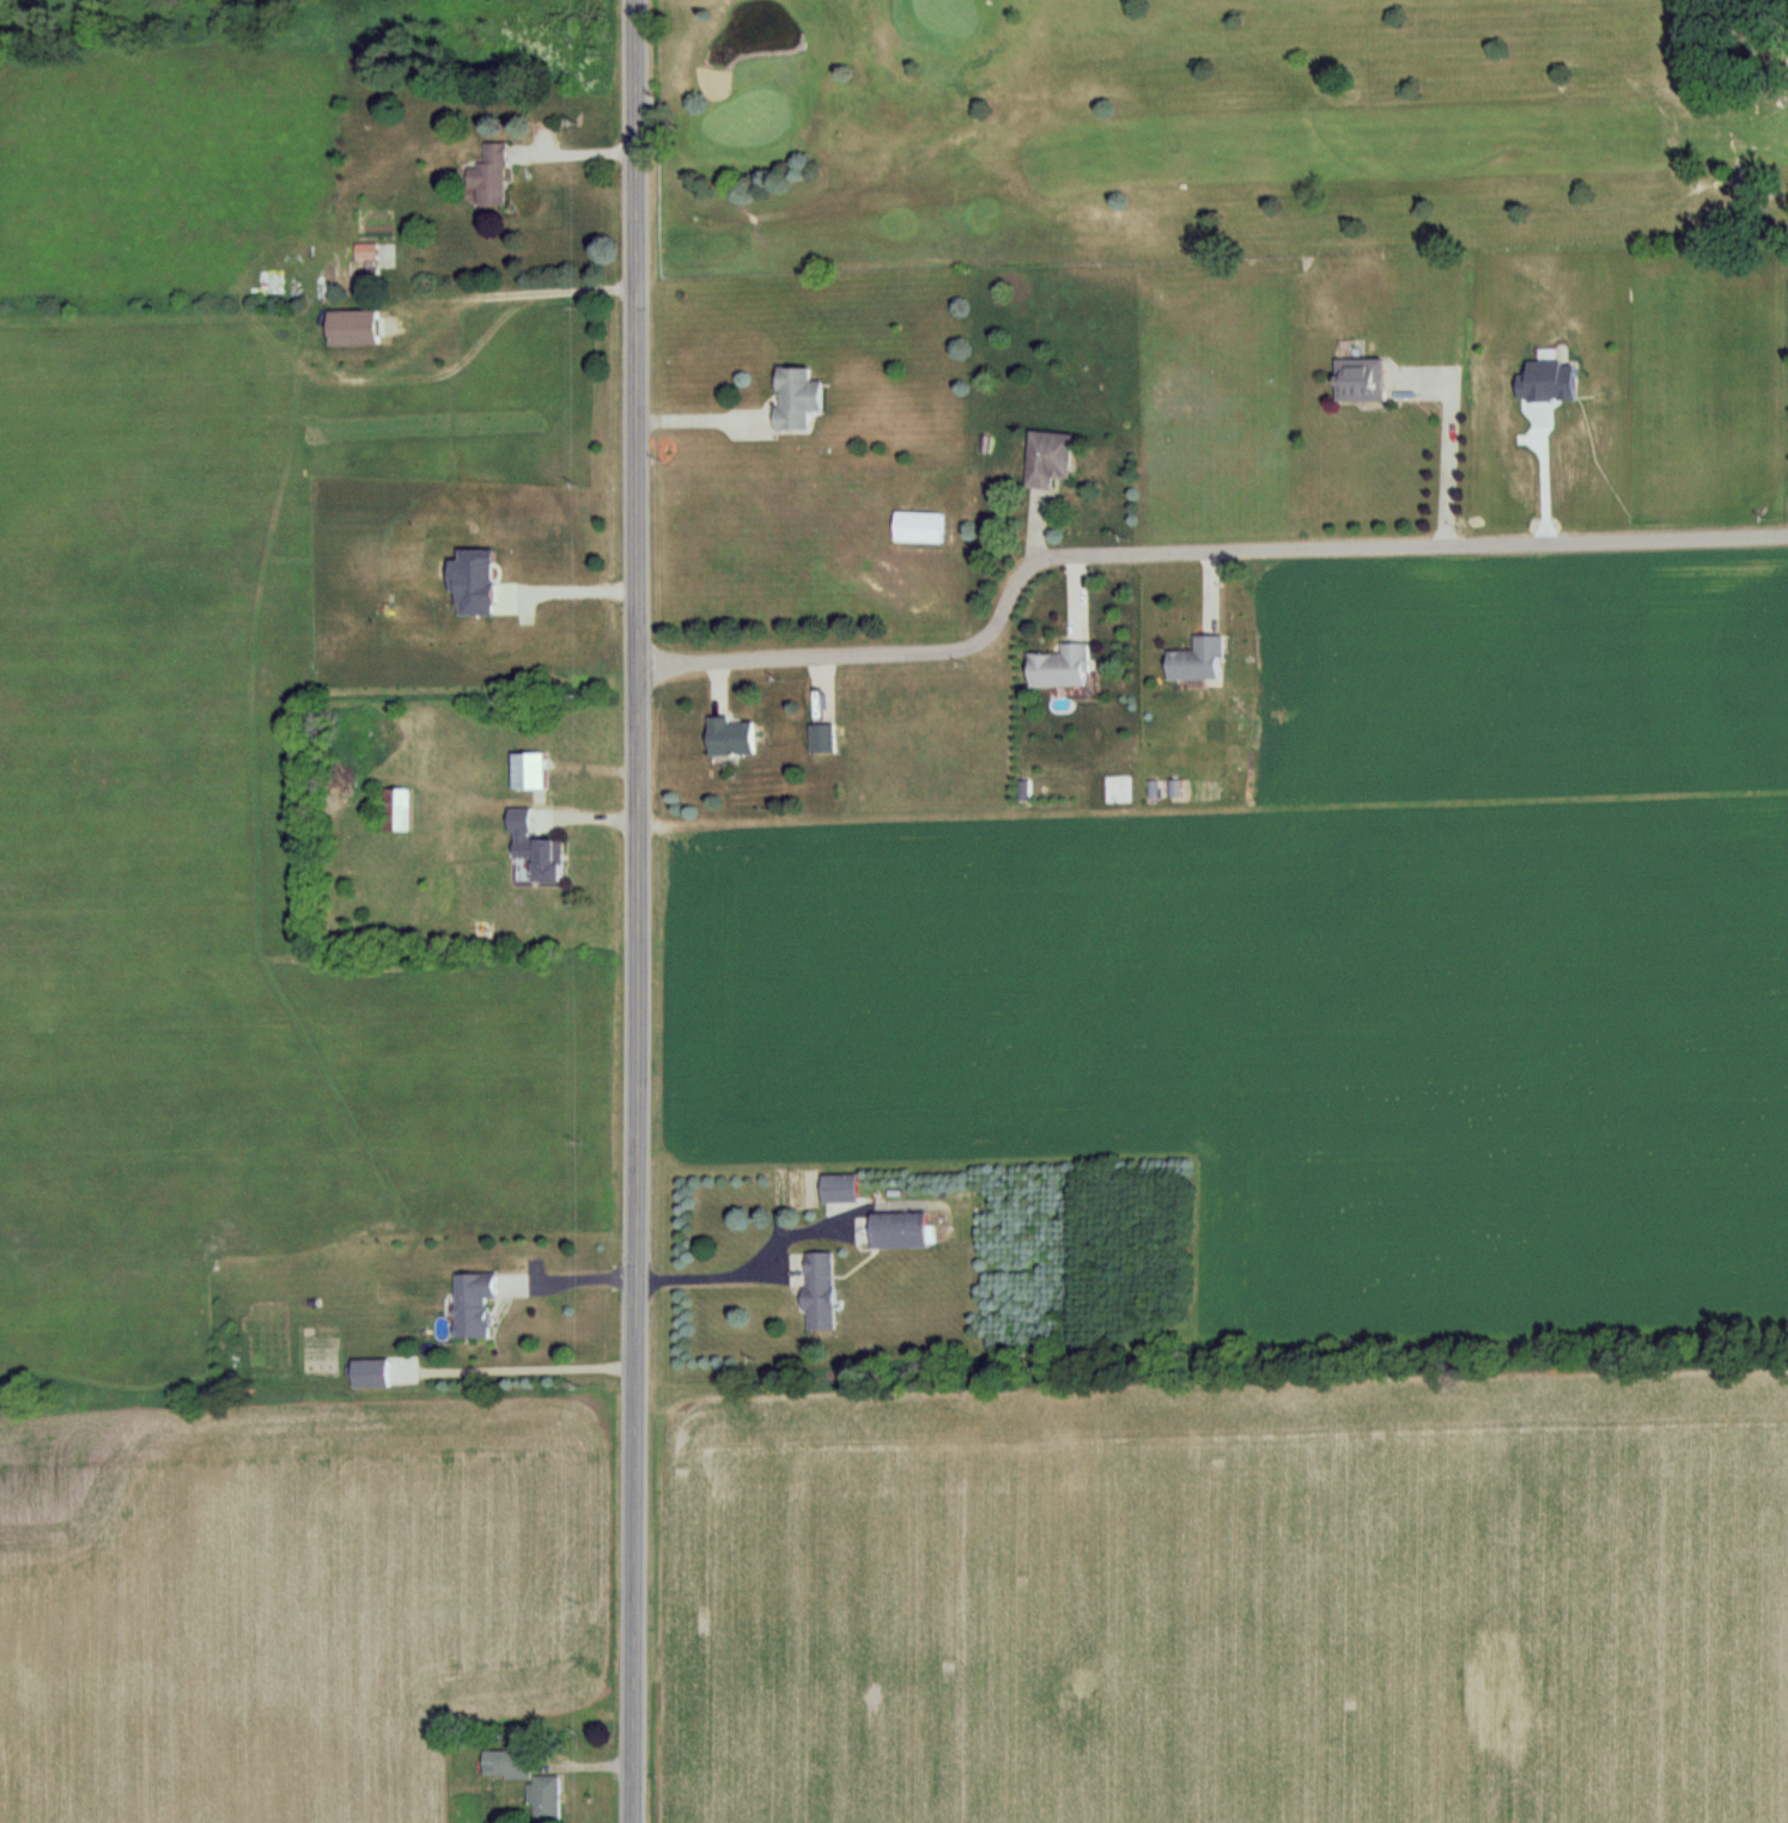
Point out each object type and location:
park: (1220, 114)
road: (572, 150)
building: (491, 176)
building: (369, 258)
road: (527, 293)
building: (353, 329)
building: (1361, 380)
building: (797, 398)
road: (701, 419)
road: (1447, 456)
building: (1050, 458)
road: (1543, 475)
building: (919, 526)
road: (1190, 550)
road: (572, 585)
building: (1199, 660)
building: (1062, 666)
building: (730, 738)
building: (823, 739)
building: (529, 772)
building: (401, 809)
building: (542, 859)
building: (444, 901)
road: (637, 911)
building: (839, 1187)
building: (900, 1228)
road: (572, 1274)
road: (705, 1274)
building: (820, 1289)
building: (473, 1301)
building: (371, 1372)
road: (1035, 1602)
building: (507, 1763)
building: (546, 1798)

